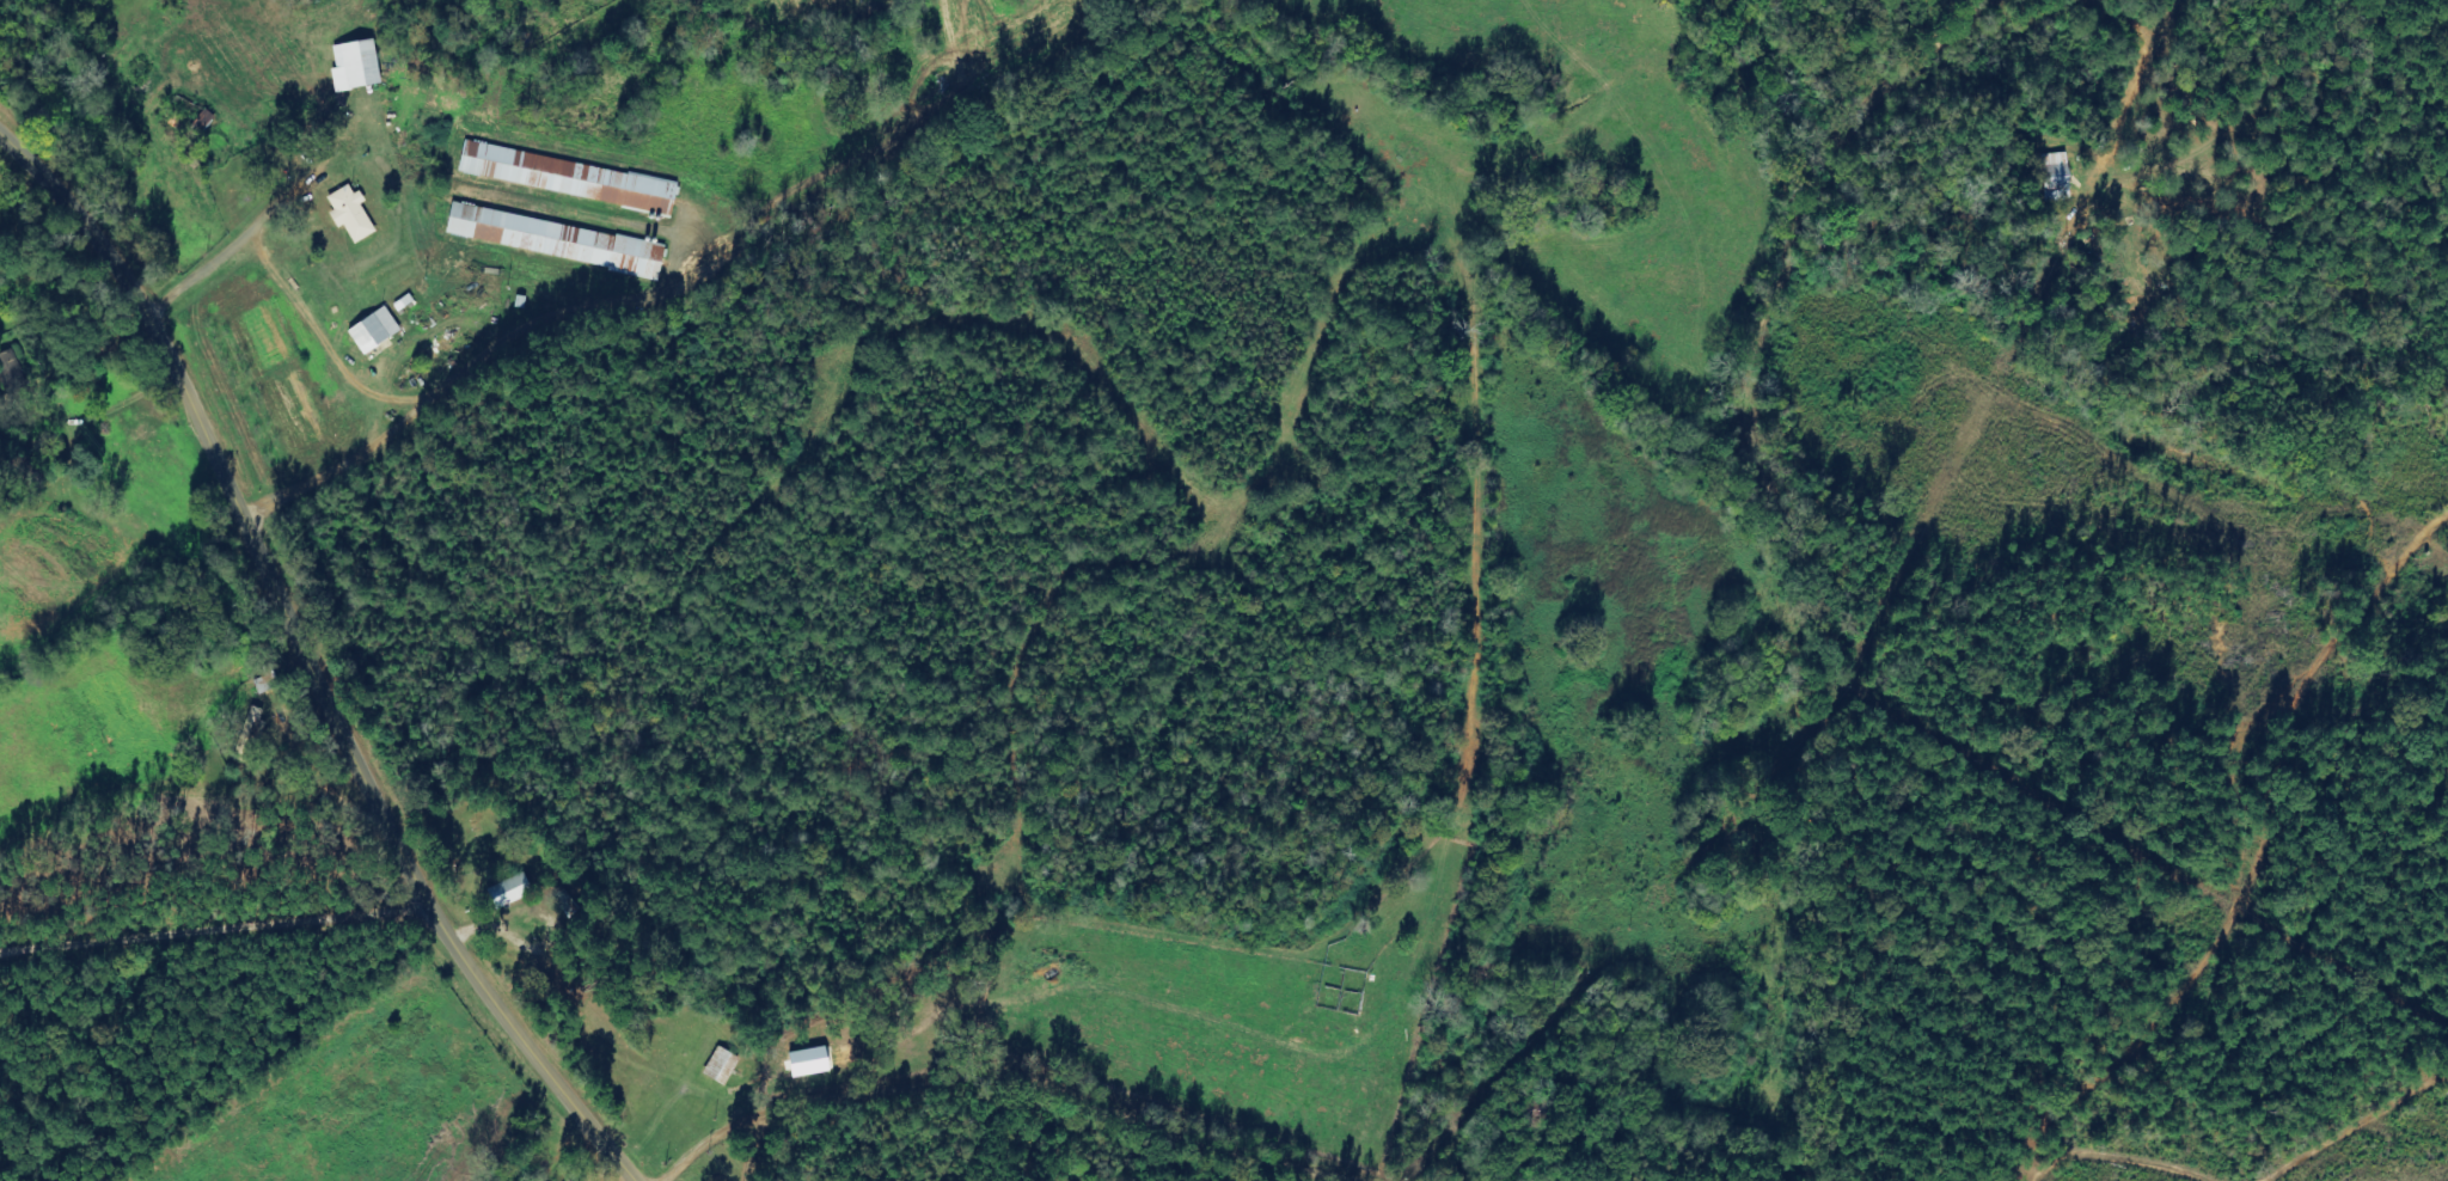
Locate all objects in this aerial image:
building: (357, 66)
road: (2251, 91)
building: (2057, 172)
building: (570, 178)
building: (353, 214)
building: (490, 235)
building: (564, 241)
building: (377, 331)
road: (1835, 538)
road: (307, 661)
road: (2140, 820)
park: (466, 840)
building: (512, 891)
road: (1049, 1073)

